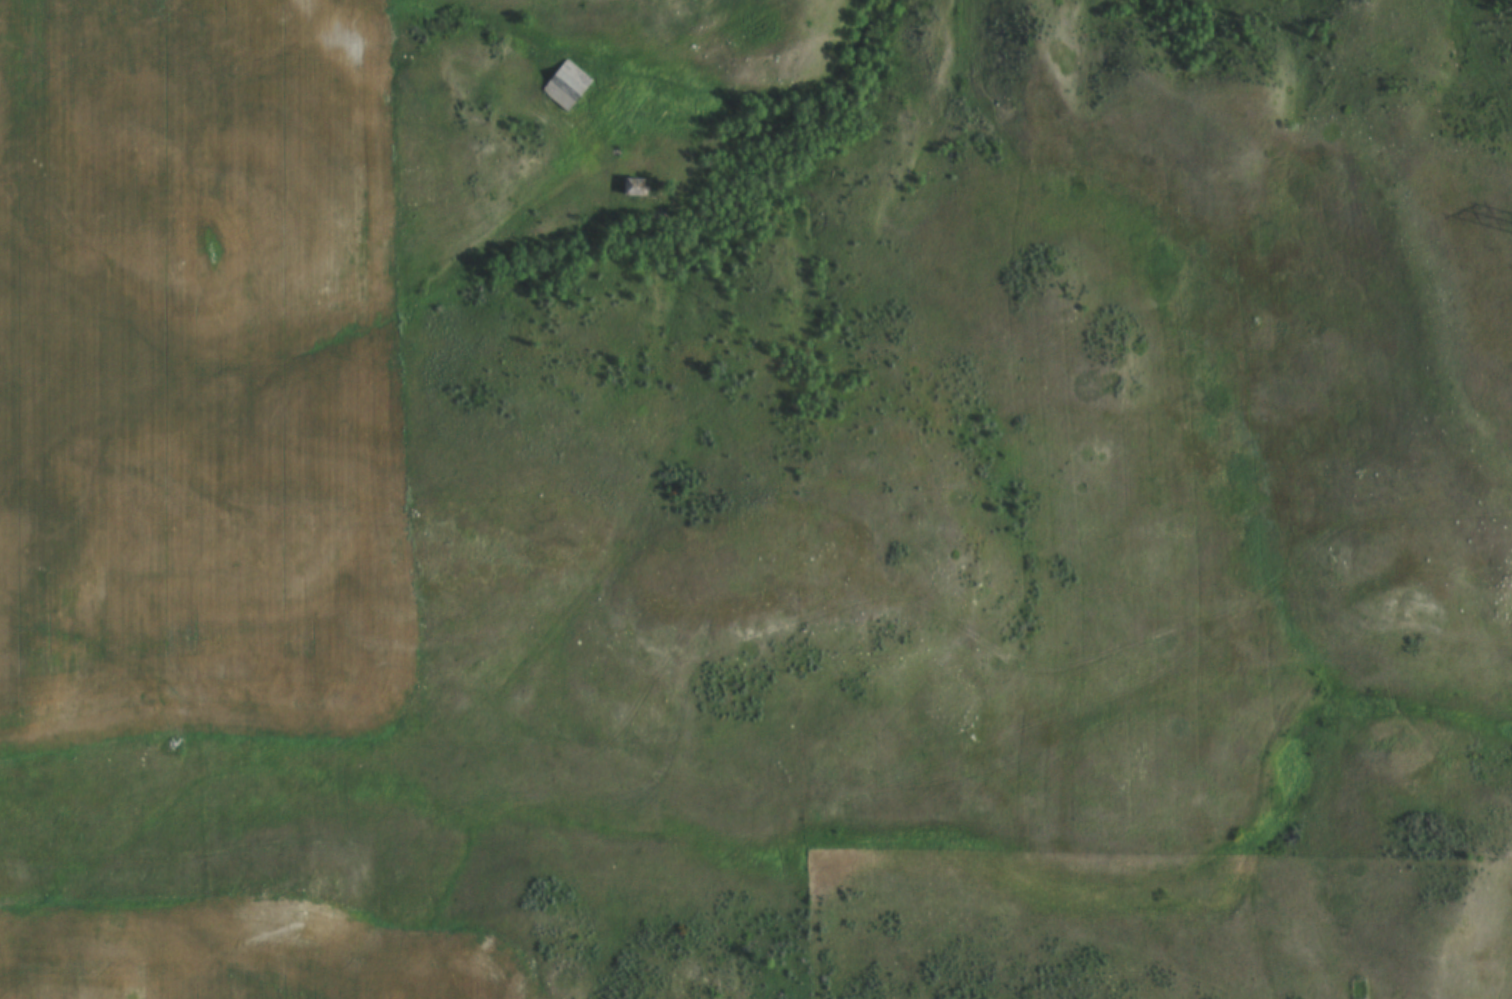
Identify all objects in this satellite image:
building: (569, 86)
road: (419, 618)

